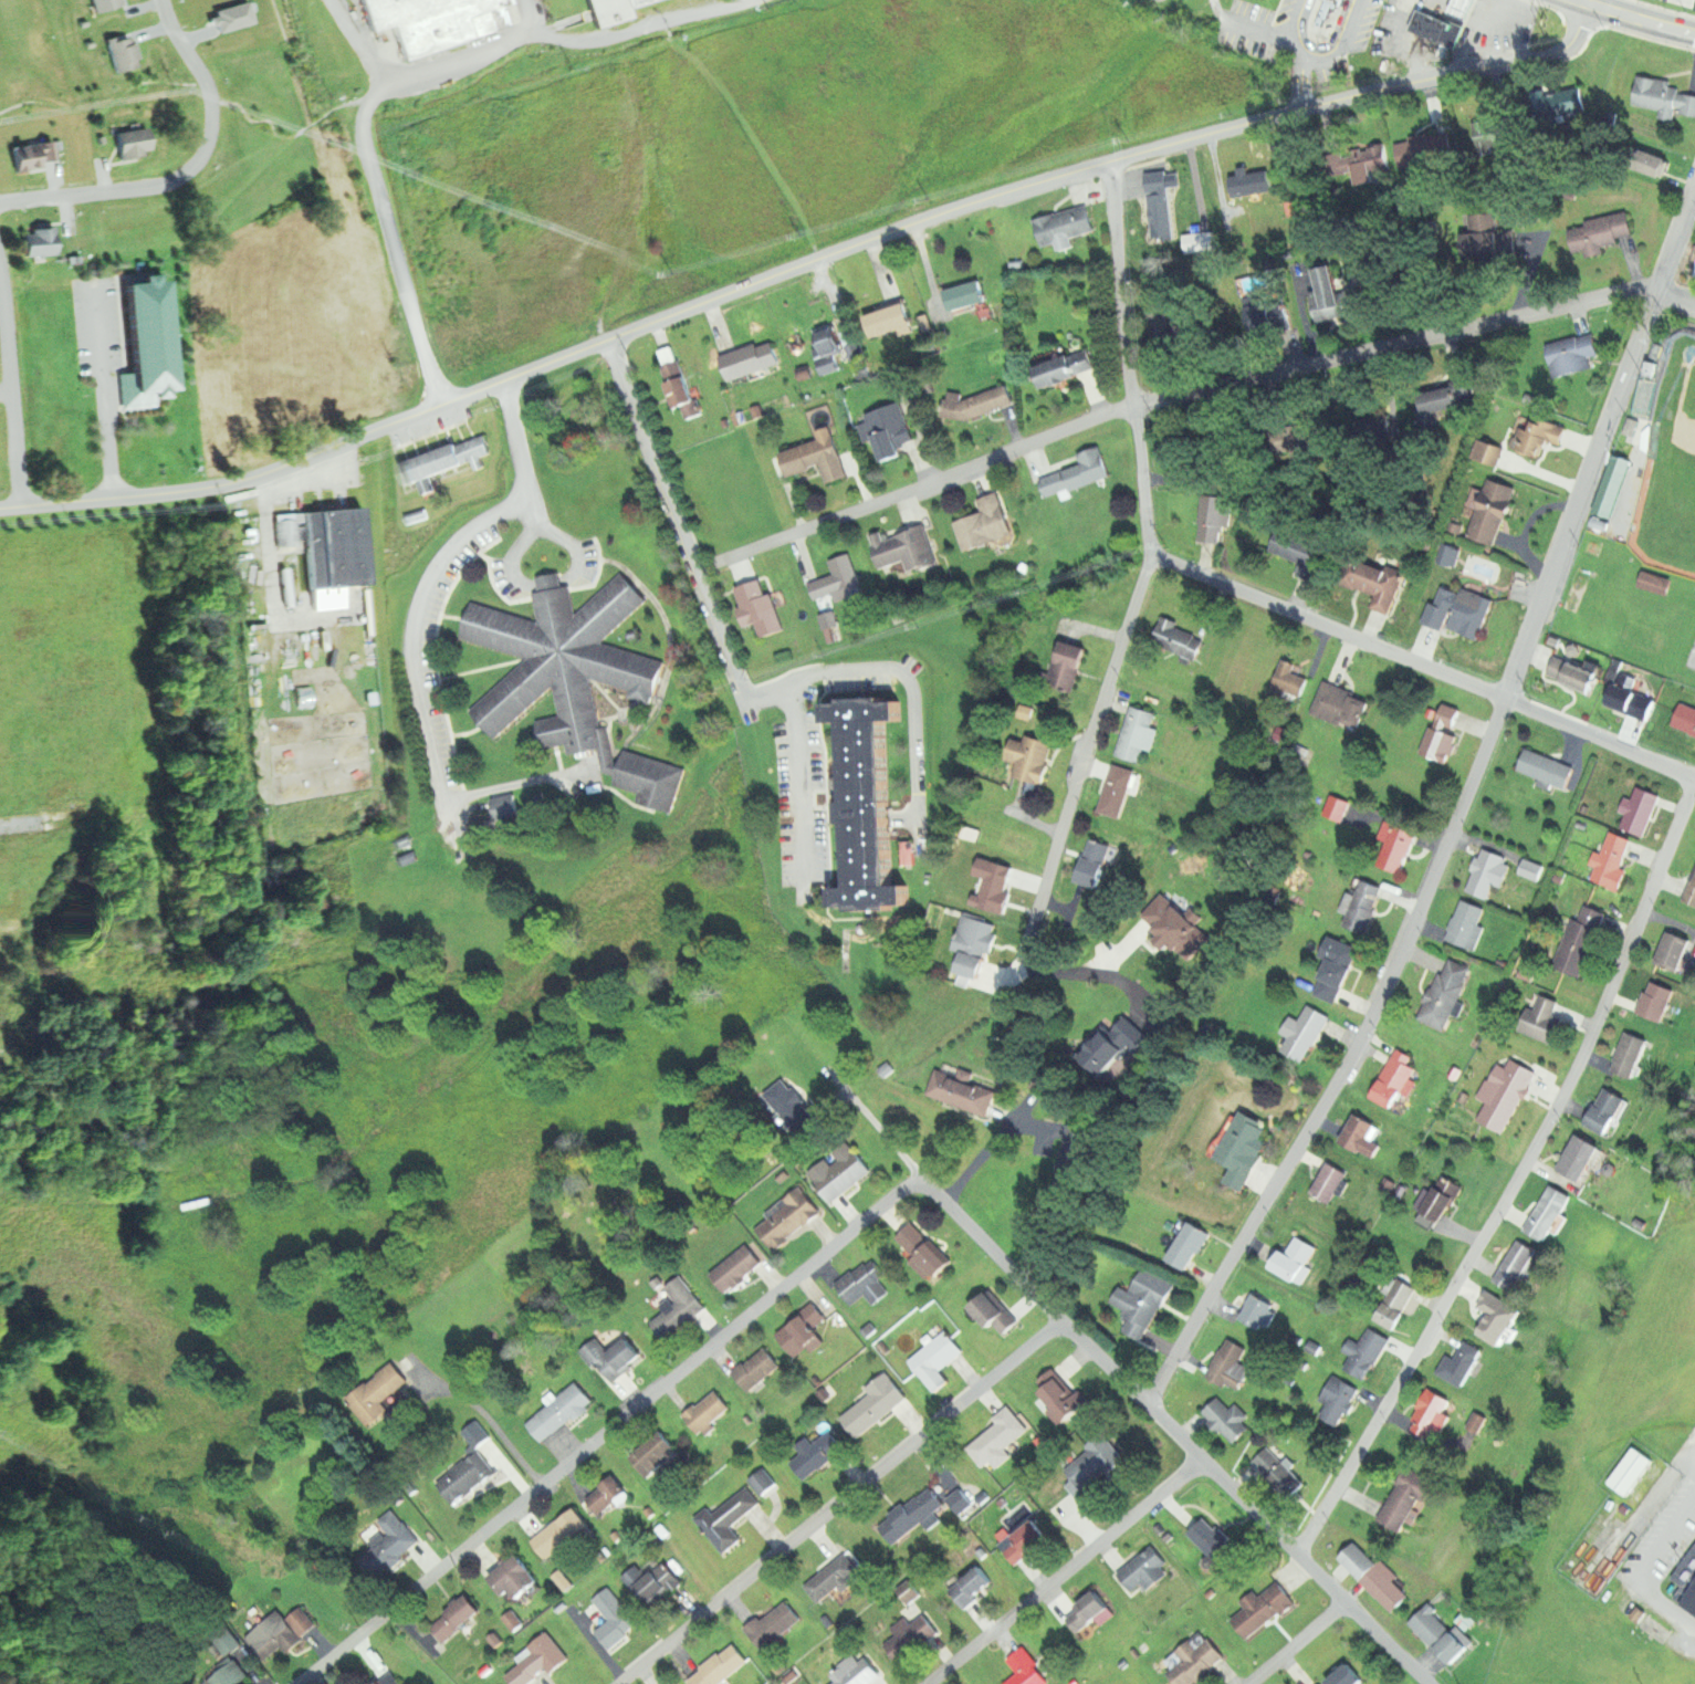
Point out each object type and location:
parking lot: (1686, 2)
road: (1601, 3)
building: (106, 6)
building: (1466, 6)
building: (609, 10)
road: (533, 17)
building: (1323, 18)
building: (430, 19)
road: (1635, 19)
building: (1440, 29)
road: (522, 34)
building: (125, 53)
building: (1662, 94)
building: (1559, 101)
building: (1492, 132)
building: (135, 144)
building: (1425, 147)
building: (33, 157)
building: (1645, 159)
building: (1371, 161)
road: (1106, 164)
road: (188, 171)
building: (1064, 224)
building: (1601, 230)
road: (390, 239)
building: (40, 242)
building: (1694, 274)
building: (966, 293)
building: (1336, 296)
road: (1675, 297)
building: (888, 316)
parking lot: (100, 326)
building: (1191, 330)
building: (149, 344)
building: (852, 344)
building: (827, 348)
building: (1572, 354)
building: (749, 358)
building: (1067, 368)
building: (803, 370)
road: (13, 383)
building: (682, 388)
road: (7, 395)
road: (106, 396)
road: (1165, 397)
building: (1446, 397)
building: (979, 404)
building: (754, 410)
building: (741, 417)
building: (725, 422)
building: (887, 427)
building: (1539, 435)
road: (1600, 440)
building: (1489, 451)
road: (313, 456)
building: (816, 457)
building: (446, 460)
building: (1077, 471)
park: (1662, 477)
building: (1492, 510)
building: (417, 514)
building: (1215, 516)
road: (676, 519)
building: (985, 522)
park: (1641, 525)
building: (286, 531)
building: (338, 546)
building: (903, 546)
building: (1301, 548)
building: (837, 578)
building: (1374, 578)
building: (1655, 580)
road: (527, 583)
road: (425, 593)
building: (757, 606)
building: (1461, 608)
road: (1130, 613)
building: (827, 617)
building: (1173, 639)
park: (1692, 657)
building: (563, 661)
road: (1423, 663)
building: (1067, 666)
building: (1572, 670)
road: (901, 671)
parking lot: (438, 673)
building: (1287, 676)
building: (1625, 698)
building: (1340, 704)
building: (1685, 719)
building: (1136, 734)
building: (1442, 734)
building: (1033, 759)
building: (1546, 766)
building: (649, 777)
road: (803, 786)
building: (1117, 789)
building: (538, 797)
parking lot: (802, 801)
building: (867, 802)
building: (506, 805)
building: (1336, 806)
building: (1640, 808)
building: (401, 839)
building: (1395, 845)
parking lot: (446, 856)
building: (407, 857)
building: (1610, 860)
building: (1095, 862)
building: (1531, 868)
building: (1488, 872)
building: (1691, 890)
building: (1361, 906)
building: (1467, 923)
building: (1175, 927)
building: (1580, 940)
building: (975, 942)
building: (1673, 949)
building: (1337, 966)
building: (1445, 994)
building: (1654, 1000)
building: (1541, 1018)
building: (1305, 1032)
building: (1110, 1045)
building: (1629, 1053)
road: (1348, 1061)
building: (1394, 1078)
building: (961, 1089)
building: (1505, 1092)
building: (788, 1106)
building: (1605, 1110)
road: (880, 1127)
building: (1359, 1134)
building: (1243, 1148)
building: (1075, 1154)
building: (1579, 1158)
building: (838, 1171)
road: (1516, 1179)
building: (1330, 1182)
building: (1444, 1196)
building: (1549, 1212)
building: (789, 1216)
building: (1186, 1244)
building: (922, 1251)
building: (1296, 1259)
building: (1519, 1264)
building: (736, 1268)
building: (864, 1282)
building: (1401, 1290)
building: (1144, 1298)
building: (680, 1309)
building: (1257, 1310)
building: (994, 1311)
building: (1390, 1315)
building: (1503, 1316)
building: (870, 1328)
building: (803, 1330)
building: (883, 1347)
building: (1363, 1351)
building: (615, 1356)
building: (935, 1359)
building: (1463, 1362)
building: (1231, 1364)
building: (757, 1367)
building: (375, 1392)
building: (827, 1392)
building: (1064, 1394)
building: (1338, 1399)
building: (875, 1403)
building: (559, 1410)
building: (708, 1411)
building: (1434, 1414)
road: (489, 1416)
building: (1228, 1416)
road: (609, 1429)
building: (475, 1432)
road: (1176, 1432)
building: (1000, 1437)
building: (816, 1452)
building: (656, 1454)
building: (1094, 1466)
building: (1631, 1471)
building: (1278, 1473)
building: (469, 1474)
building: (607, 1494)
building: (1409, 1497)
building: (663, 1499)
building: (959, 1499)
road: (839, 1502)
building: (650, 1512)
building: (912, 1515)
building: (728, 1517)
building: (562, 1531)
building: (616, 1536)
building: (1211, 1538)
building: (1026, 1540)
building: (389, 1544)
building: (1144, 1568)
road: (1066, 1571)
building: (514, 1576)
building: (834, 1576)
building: (1373, 1576)
building: (565, 1579)
building: (1687, 1580)
building: (652, 1581)
building: (972, 1586)
building: (908, 1590)
building: (1628, 1604)
building: (1264, 1609)
building: (1090, 1610)
building: (614, 1617)
building: (456, 1618)
building: (514, 1619)
building: (772, 1624)
building: (279, 1631)
building: (1441, 1634)
building: (909, 1636)
road: (1296, 1643)
building: (540, 1660)
building: (1197, 1662)
building: (719, 1665)
building: (1025, 1669)
building: (855, 1670)
building: (228, 1674)
building: (1346, 1676)
building: (388, 1678)

